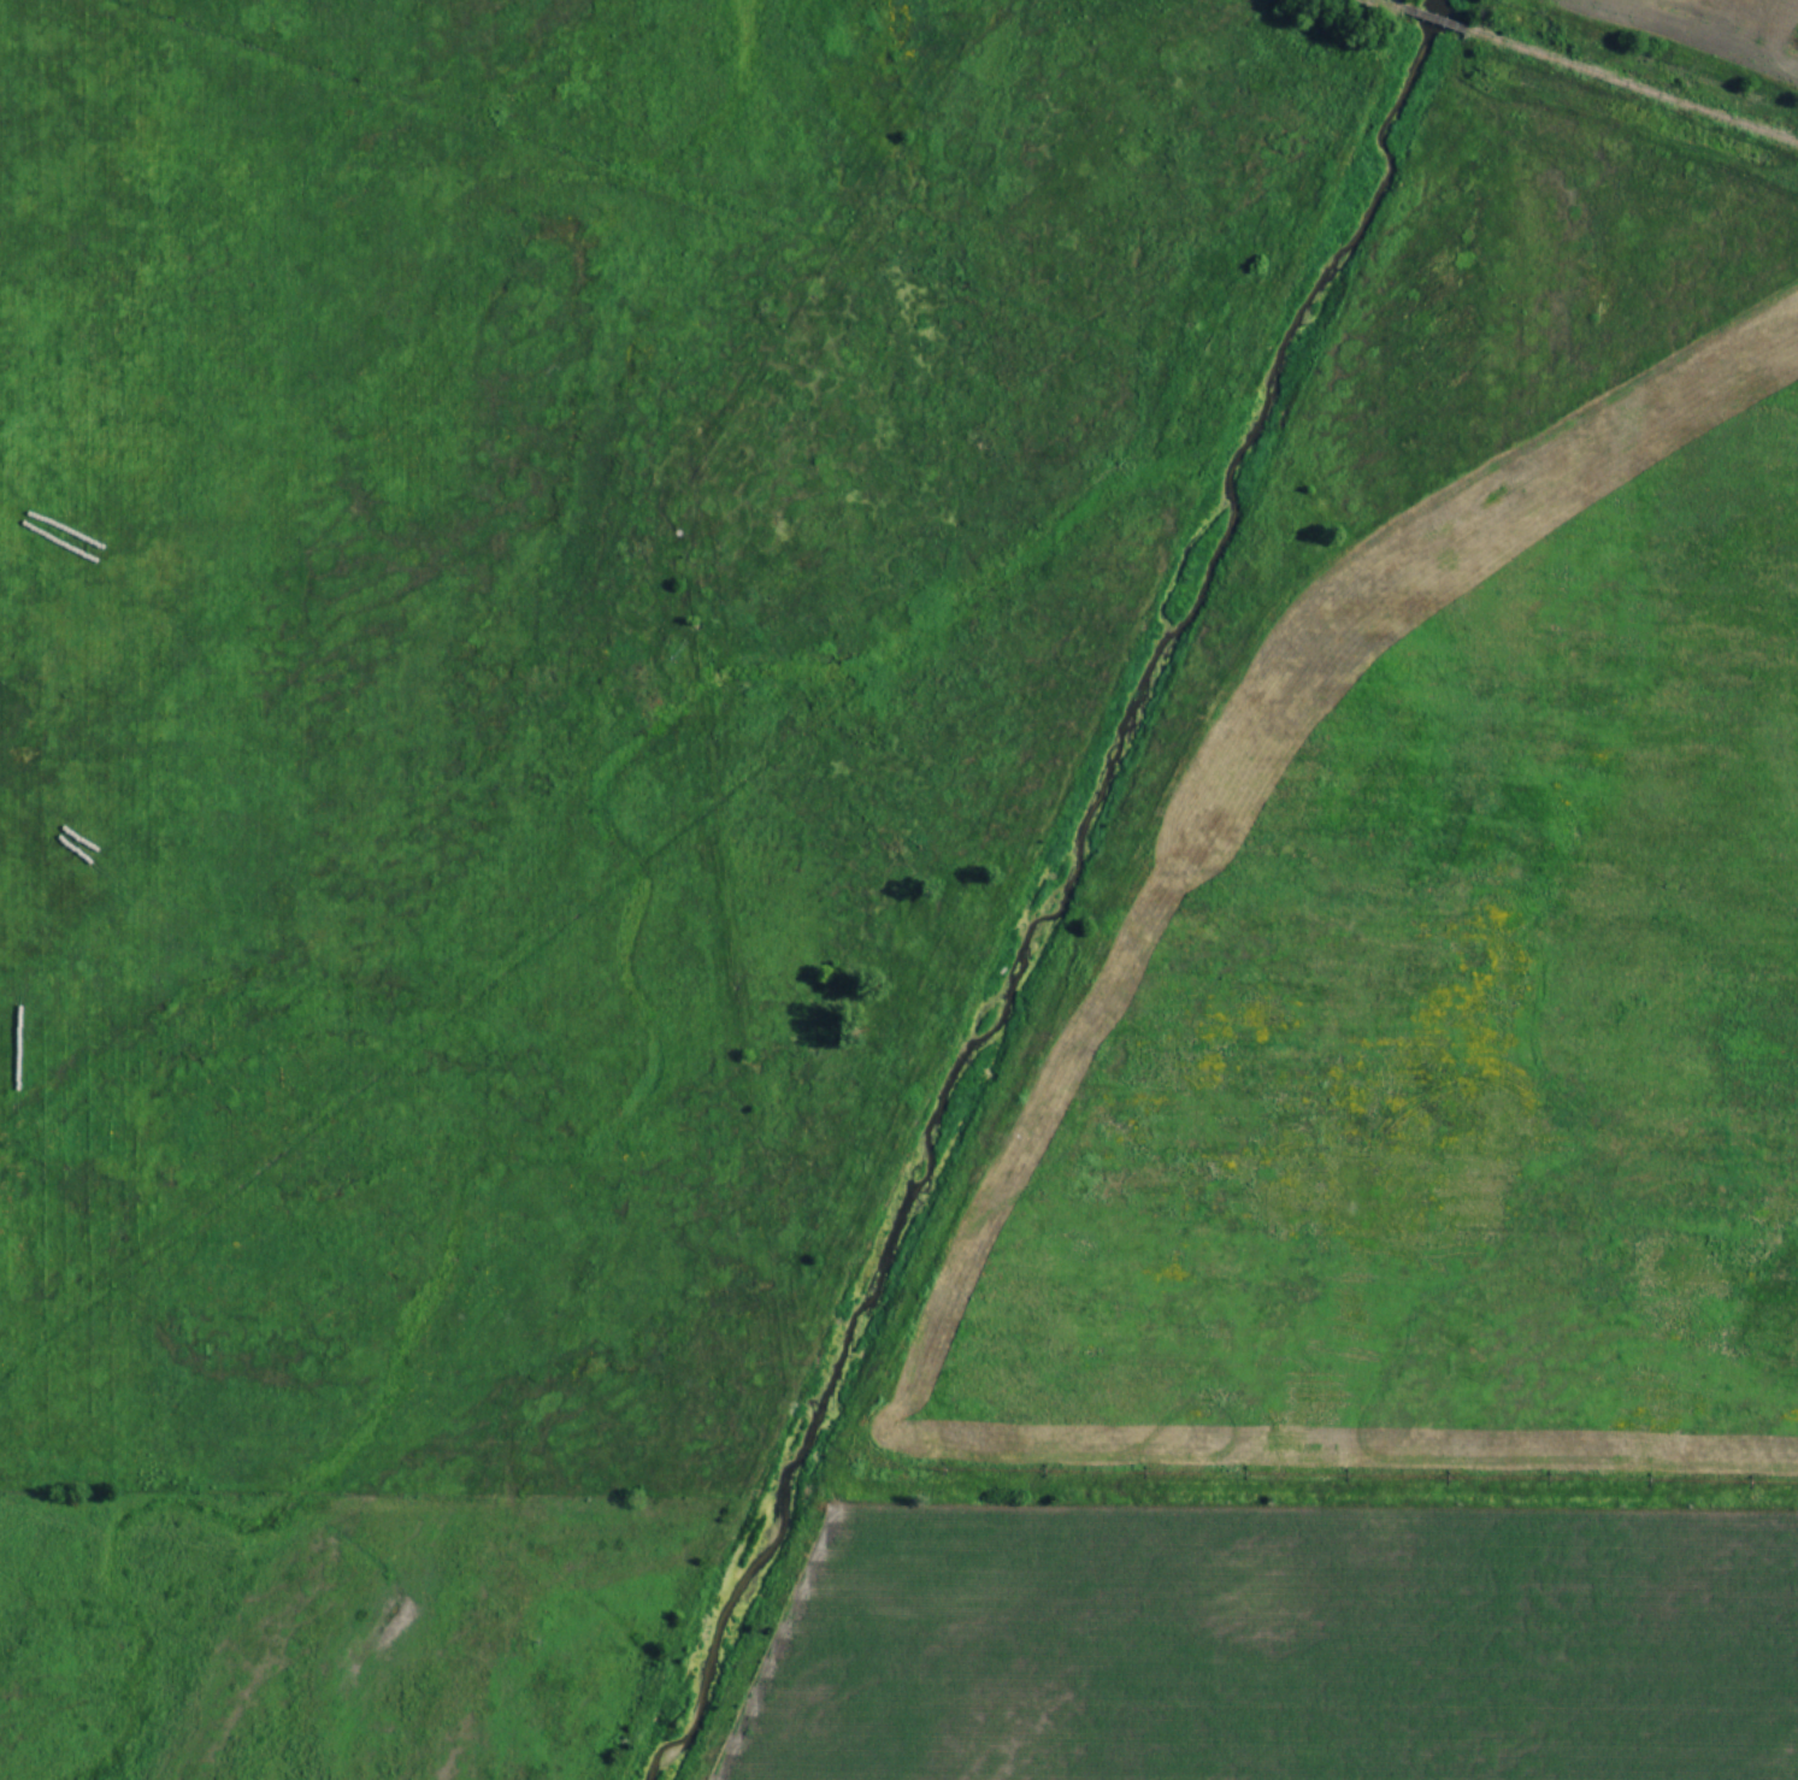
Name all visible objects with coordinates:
railway: (1599, 75)
building: (570, 218)

